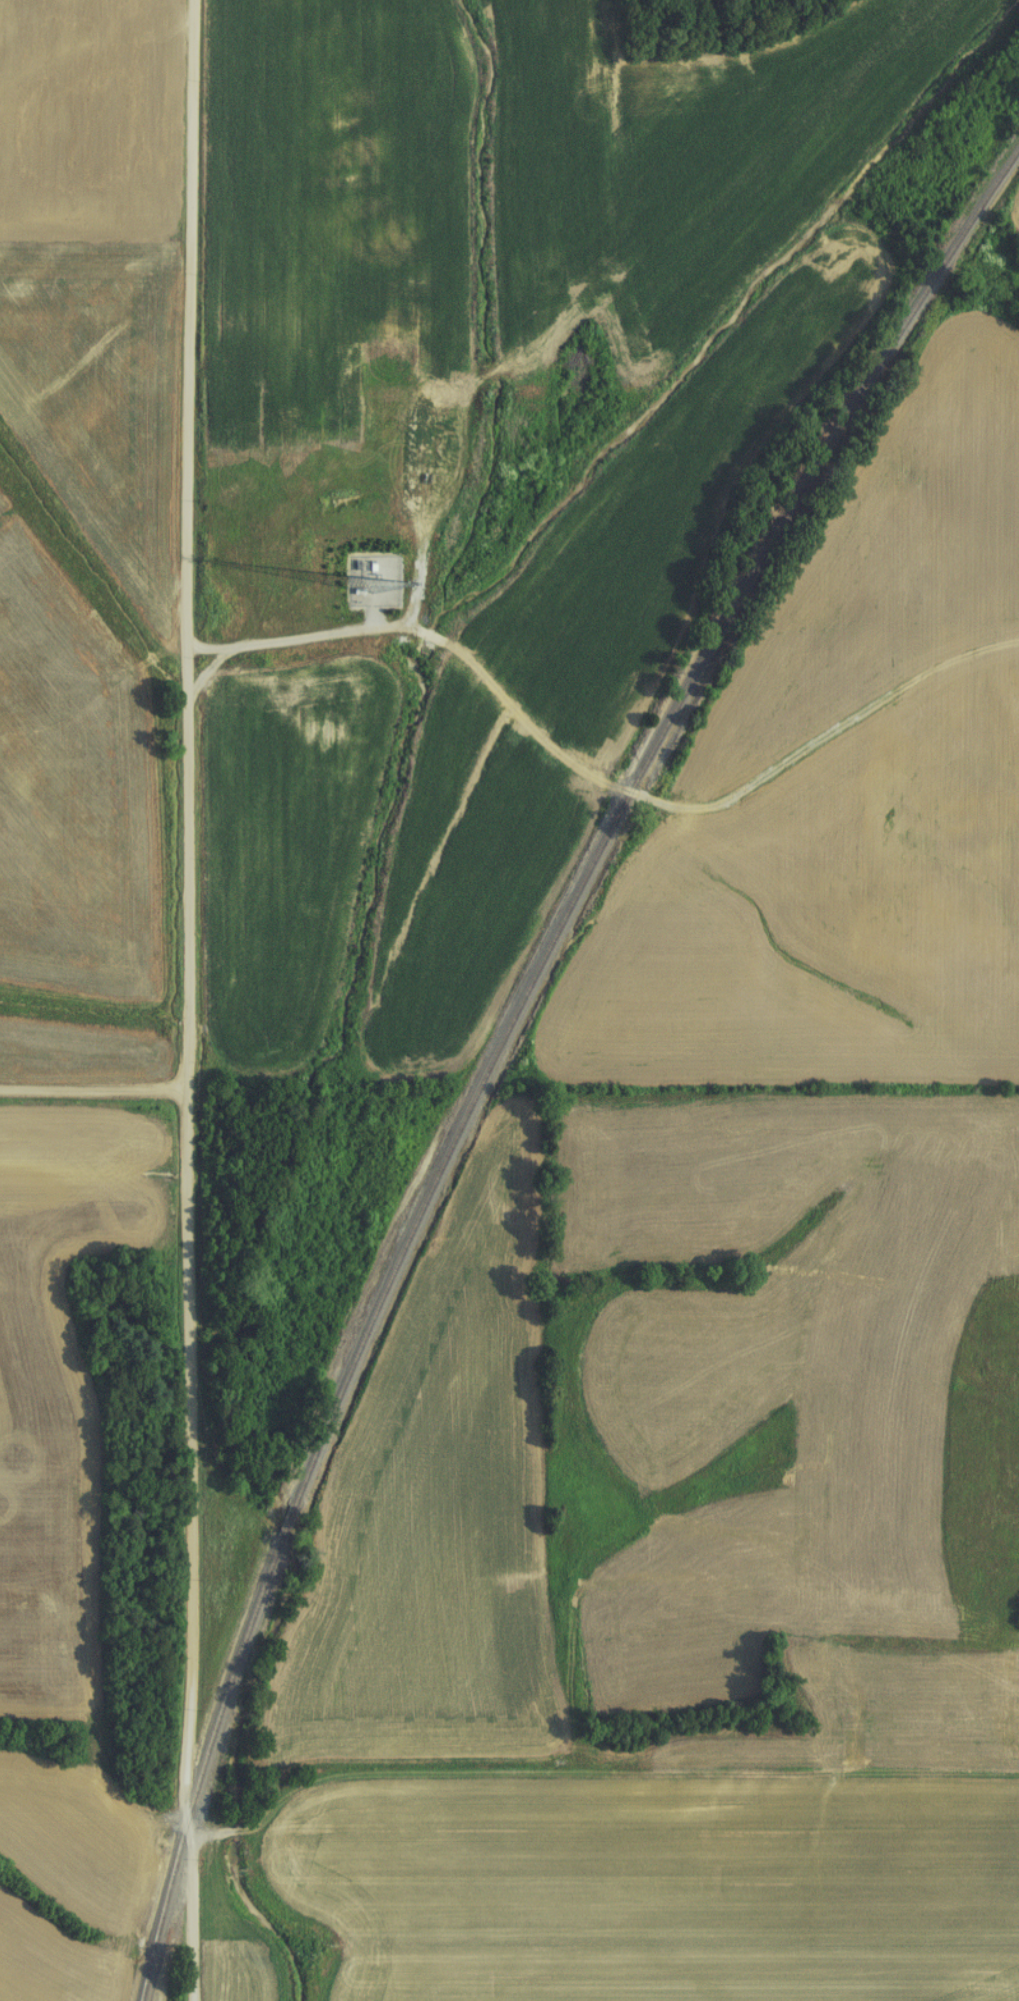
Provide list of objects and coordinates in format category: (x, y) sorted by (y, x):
road: (186, 1001)
railway: (502, 1038)
road: (93, 1094)

